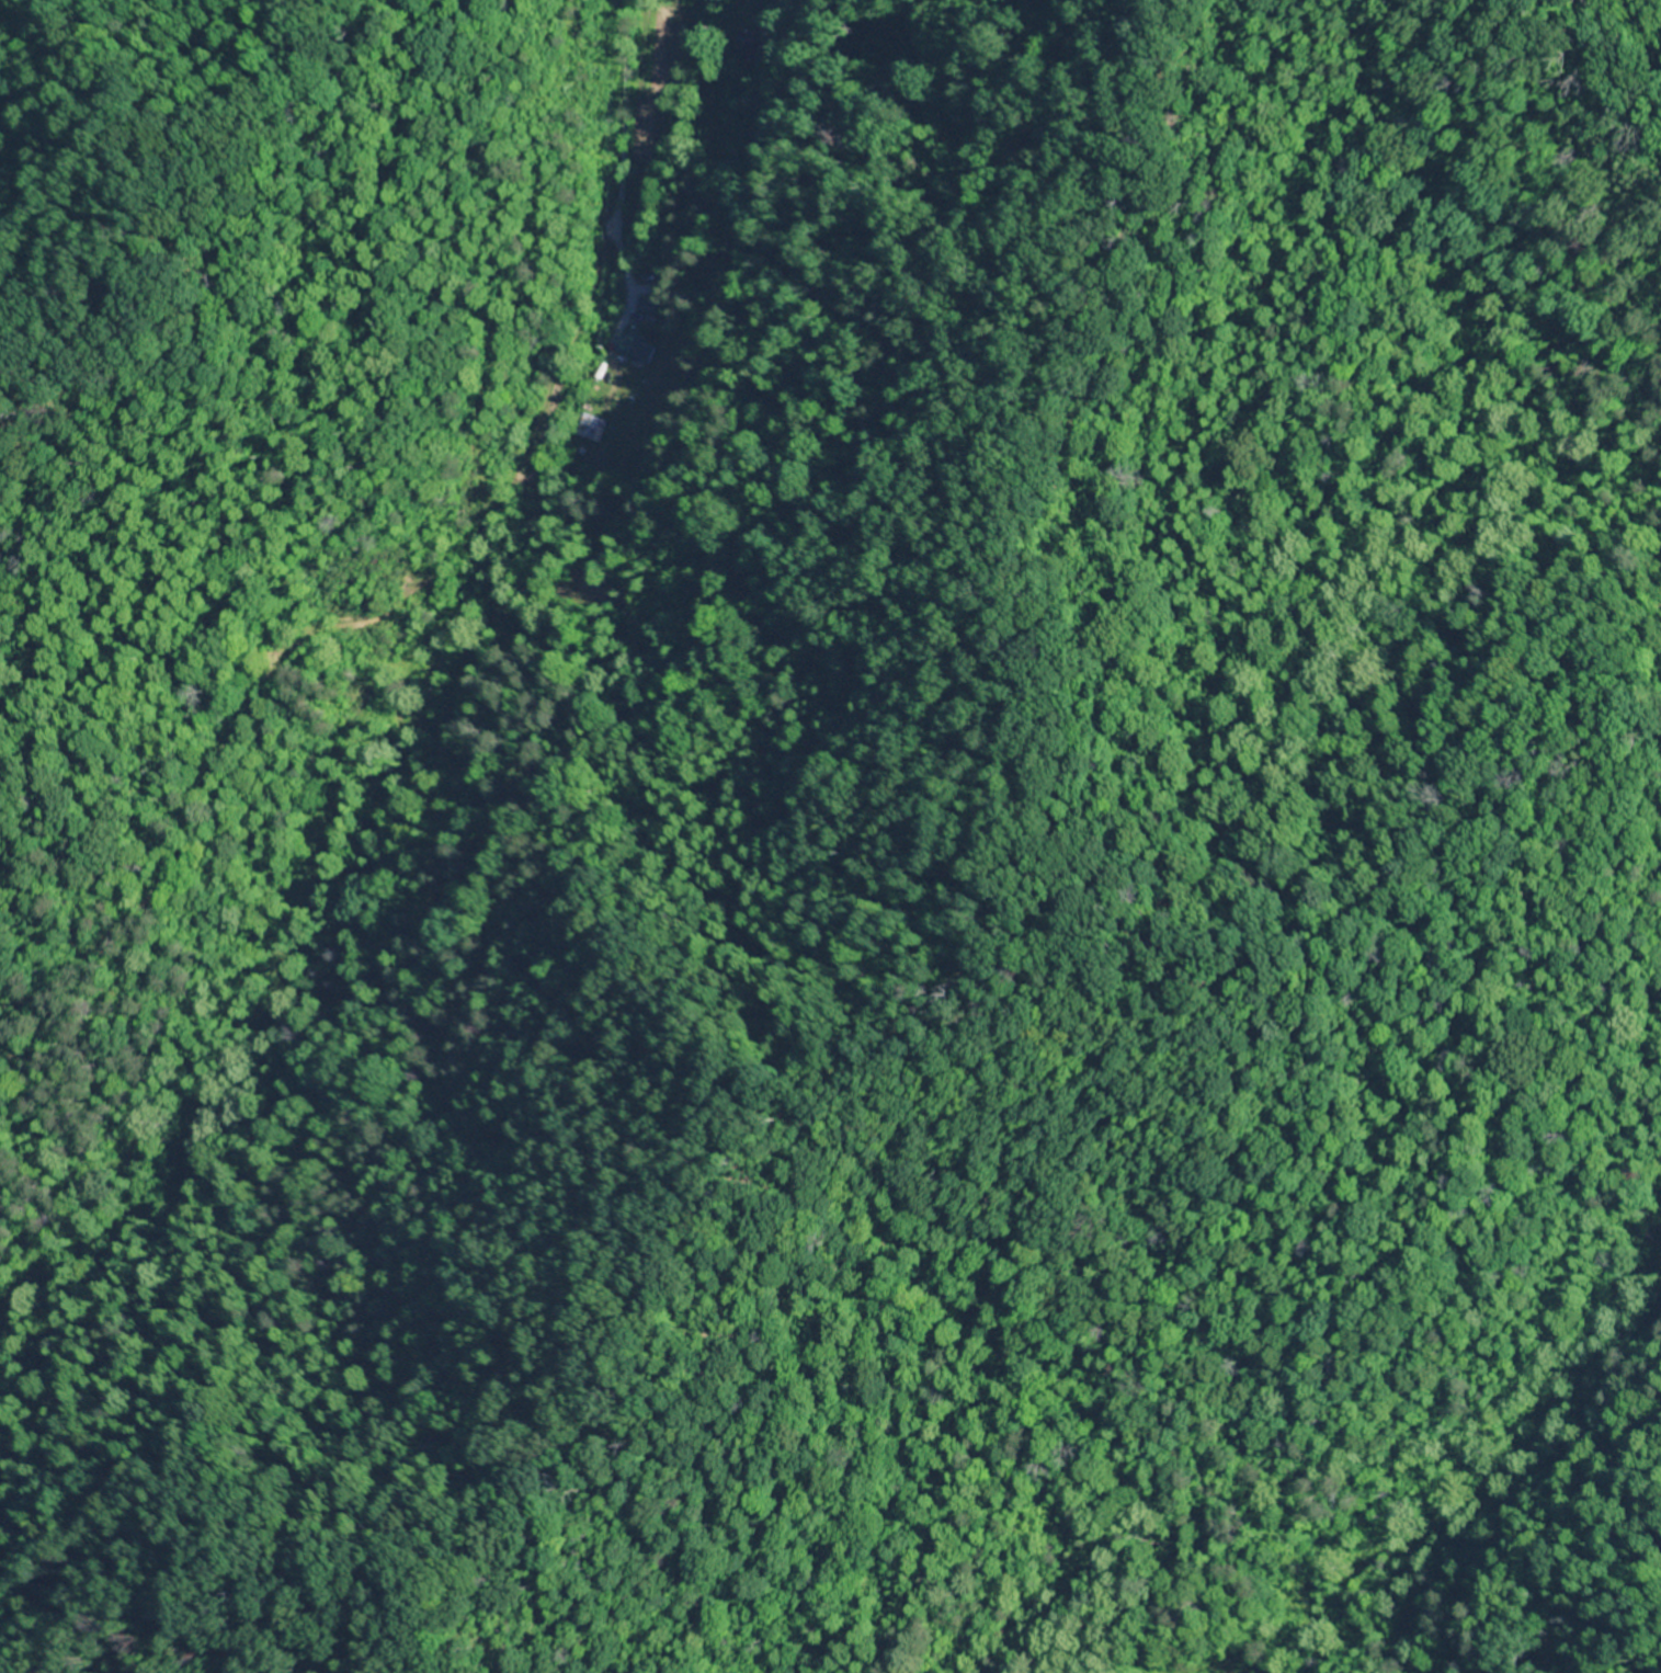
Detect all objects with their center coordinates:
building: (762, 42)
building: (650, 306)
building: (637, 349)
building: (591, 428)

